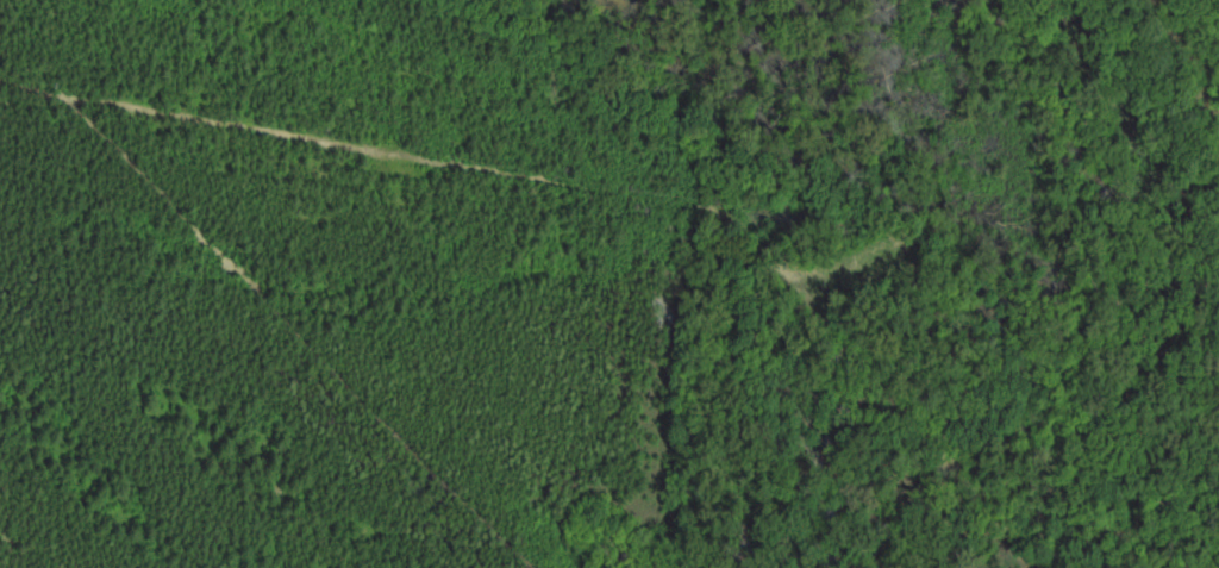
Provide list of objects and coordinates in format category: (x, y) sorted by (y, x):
river: (1190, 50)
road: (452, 169)

